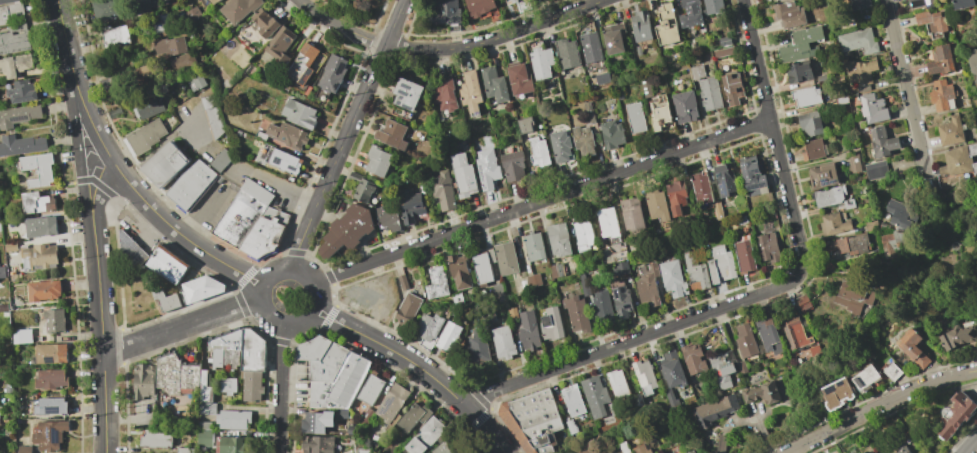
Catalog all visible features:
building: (8, 1)
building: (214, 1)
building: (512, 1)
building: (160, 3)
building: (921, 3)
building: (858, 4)
building: (962, 4)
building: (479, 6)
building: (713, 6)
building: (122, 9)
building: (239, 9)
building: (10, 12)
building: (193, 13)
building: (445, 13)
building: (691, 13)
building: (789, 14)
building: (265, 23)
building: (932, 23)
building: (160, 25)
building: (667, 25)
building: (642, 26)
road: (341, 27)
building: (115, 36)
building: (613, 37)
building: (14, 39)
road: (497, 39)
building: (725, 41)
building: (858, 41)
building: (801, 44)
building: (281, 45)
building: (170, 47)
building: (591, 47)
building: (639, 50)
building: (724, 52)
building: (568, 53)
building: (941, 60)
building: (184, 62)
building: (541, 63)
building: (302, 64)
building: (16, 66)
building: (971, 69)
building: (698, 71)
building: (860, 71)
building: (799, 72)
building: (332, 73)
road: (73, 77)
building: (520, 78)
building: (603, 79)
building: (198, 82)
road: (902, 83)
building: (106, 85)
building: (494, 85)
building: (646, 87)
building: (733, 88)
building: (863, 88)
building: (618, 91)
building: (23, 92)
building: (407, 92)
building: (471, 92)
building: (710, 94)
building: (445, 95)
building: (942, 95)
building: (805, 97)
building: (209, 101)
building: (842, 101)
building: (149, 106)
building: (685, 107)
building: (873, 108)
building: (115, 113)
building: (588, 113)
building: (660, 113)
building: (299, 114)
building: (19, 115)
building: (636, 117)
building: (811, 123)
building: (525, 124)
building: (955, 131)
road: (348, 133)
building: (261, 135)
building: (288, 135)
building: (392, 135)
building: (612, 135)
building: (144, 137)
building: (583, 141)
building: (882, 142)
building: (21, 145)
building: (561, 146)
building: (814, 149)
building: (539, 152)
road: (153, 153)
building: (961, 159)
building: (222, 160)
building: (286, 161)
building: (378, 161)
building: (856, 162)
building: (166, 164)
building: (513, 166)
building: (488, 168)
building: (43, 170)
building: (876, 170)
building: (754, 174)
building: (823, 175)
building: (463, 176)
building: (725, 179)
road: (279, 184)
building: (191, 185)
building: (701, 188)
building: (365, 190)
building: (443, 190)
building: (676, 196)
building: (829, 197)
road: (542, 200)
building: (37, 202)
building: (849, 204)
building: (411, 205)
building: (656, 205)
road: (201, 210)
building: (718, 212)
building: (243, 213)
building: (632, 214)
building: (389, 219)
building: (903, 219)
building: (741, 220)
road: (165, 221)
building: (608, 222)
building: (834, 224)
building: (871, 225)
building: (41, 227)
building: (0, 228)
building: (348, 230)
building: (583, 233)
building: (849, 233)
building: (265, 234)
building: (559, 239)
building: (892, 243)
building: (849, 245)
building: (534, 246)
building: (11, 247)
building: (769, 247)
building: (131, 251)
road: (296, 254)
building: (745, 255)
building: (39, 257)
road: (272, 258)
building: (507, 258)
road: (316, 262)
building: (168, 264)
building: (721, 264)
building: (484, 265)
building: (828, 267)
building: (621, 268)
road: (301, 270)
building: (459, 270)
building: (558, 270)
building: (0, 271)
building: (695, 272)
building: (412, 274)
road: (254, 275)
building: (13, 277)
road: (331, 277)
building: (582, 277)
building: (673, 278)
building: (534, 280)
building: (404, 282)
building: (438, 282)
road: (250, 284)
building: (649, 285)
road: (262, 286)
building: (585, 287)
building: (976, 288)
building: (199, 289)
building: (44, 290)
road: (237, 290)
road: (766, 291)
building: (976, 291)
building: (499, 292)
road: (336, 296)
building: (620, 299)
road: (99, 300)
building: (165, 300)
building: (854, 300)
building: (802, 302)
building: (4, 308)
building: (408, 308)
building: (603, 309)
road: (314, 310)
road: (333, 313)
building: (513, 313)
building: (578, 313)
road: (330, 319)
road: (328, 321)
building: (54, 322)
road: (276, 322)
building: (552, 324)
road: (182, 327)
building: (429, 327)
road: (261, 330)
building: (529, 330)
building: (796, 331)
building: (768, 333)
building: (23, 336)
building: (449, 336)
building: (958, 337)
road: (311, 339)
building: (503, 341)
building: (745, 341)
road: (285, 343)
building: (478, 347)
building: (913, 347)
building: (226, 349)
building: (889, 350)
building: (253, 351)
building: (815, 352)
building: (51, 353)
building: (322, 357)
building: (694, 359)
road: (412, 363)
building: (742, 367)
building: (722, 368)
building: (672, 369)
building: (891, 369)
building: (866, 375)
building: (183, 376)
building: (645, 376)
building: (51, 379)
building: (143, 381)
building: (617, 383)
building: (340, 384)
building: (228, 385)
building: (252, 386)
building: (9, 388)
building: (371, 388)
road: (283, 389)
building: (761, 392)
building: (838, 392)
building: (595, 396)
building: (670, 397)
building: (573, 400)
building: (637, 400)
building: (392, 403)
building: (47, 406)
road: (877, 406)
building: (612, 409)
building: (712, 411)
building: (341, 413)
building: (956, 413)
building: (366, 417)
building: (414, 417)
building: (233, 419)
building: (533, 420)
road: (740, 421)
building: (316, 422)
building: (572, 427)
building: (350, 429)
road: (488, 430)
building: (50, 434)
road: (764, 434)
building: (426, 435)
building: (156, 438)
building: (204, 438)
building: (318, 444)
building: (719, 444)
road: (722, 444)
building: (231, 445)
road: (972, 445)
building: (450, 446)
building: (624, 448)
building: (903, 448)
building: (25, 449)
building: (641, 449)
building: (675, 449)
road: (772, 449)
building: (184, 450)
building: (363, 450)
building: (584, 451)
building: (691, 451)
building: (653, 452)

